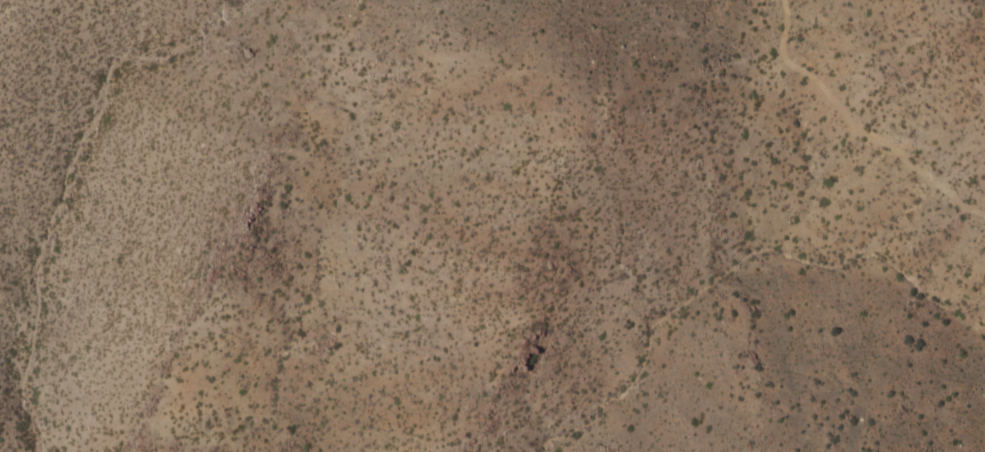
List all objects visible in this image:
road: (856, 129)

